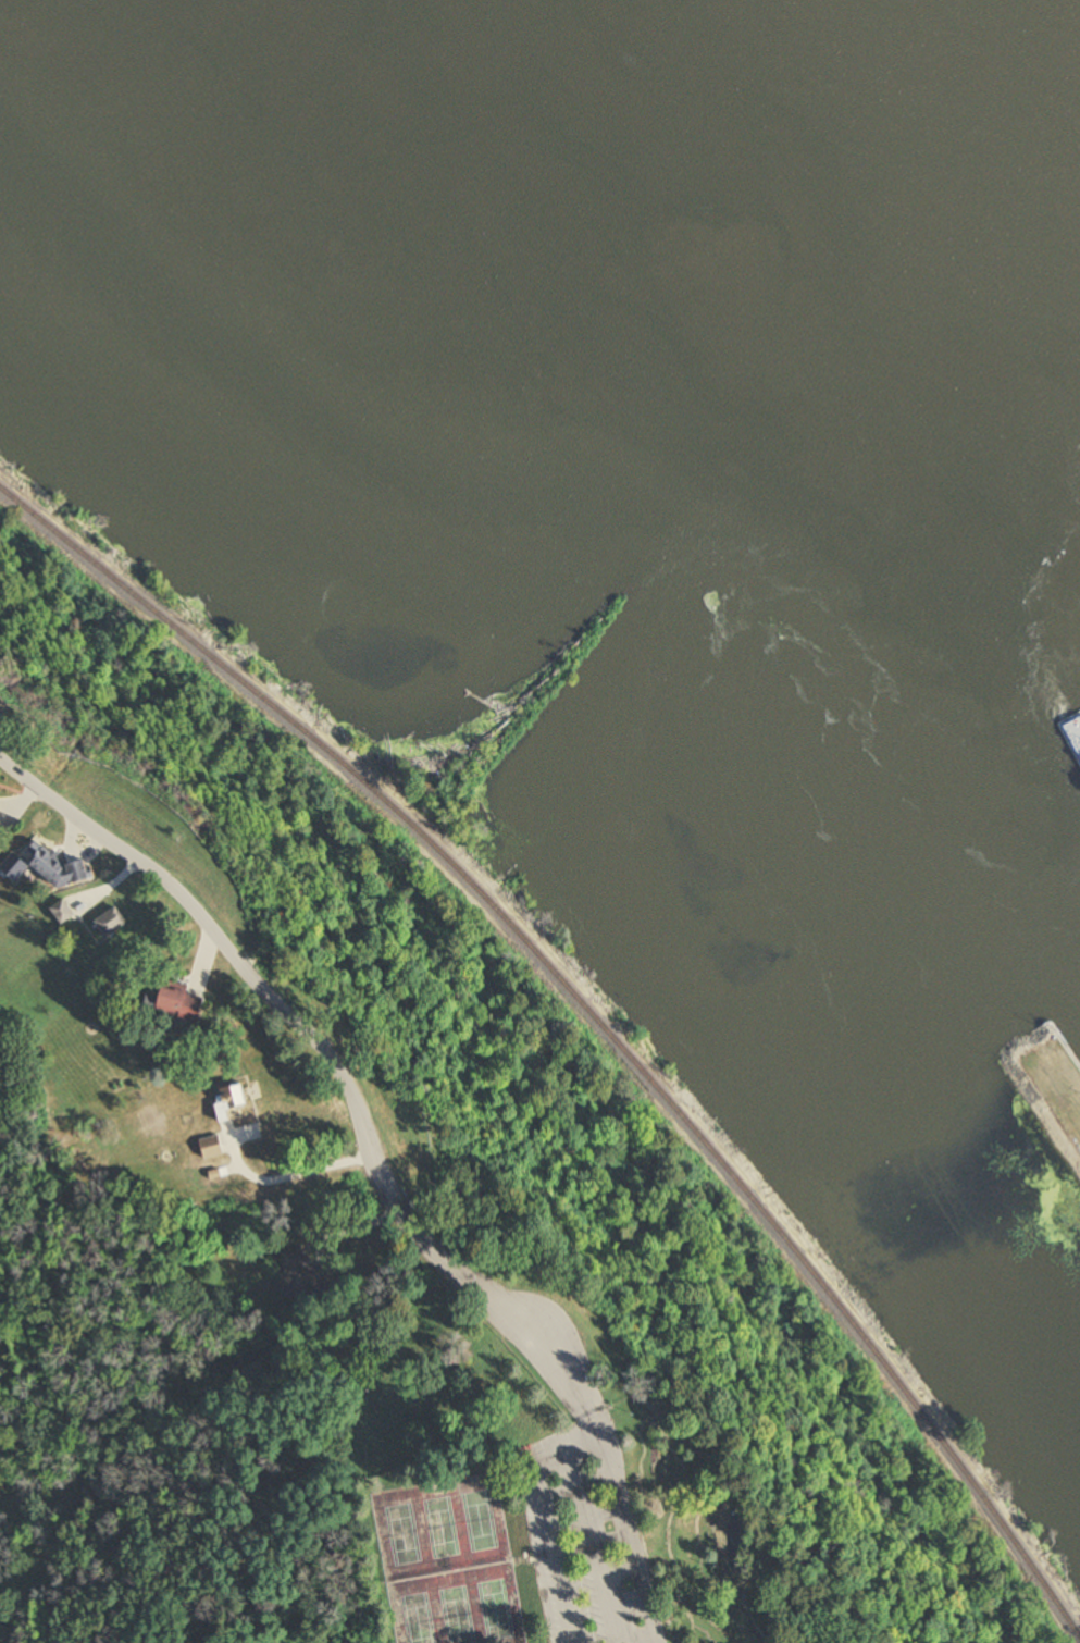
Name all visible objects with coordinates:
river: (1002, 203)
building: (4, 806)
building: (74, 875)
building: (73, 916)
building: (126, 927)
building: (197, 1010)
railway: (593, 1015)
road: (335, 1049)
building: (245, 1101)
building: (215, 1149)
building: (298, 1270)
parking lot: (558, 1339)
park: (471, 1459)
park: (481, 1520)
road: (635, 1523)
park: (439, 1528)
road: (592, 1528)
park: (399, 1534)
parking lot: (595, 1534)
park: (496, 1604)
park: (454, 1607)
park: (413, 1610)
road: (762, 1618)

